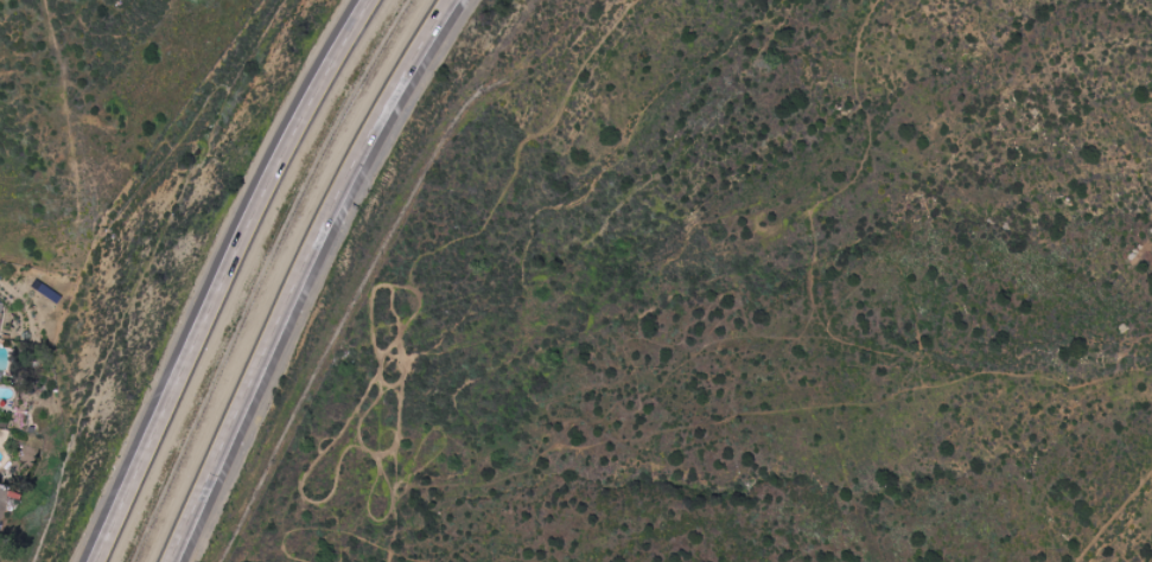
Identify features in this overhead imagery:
road: (218, 274)
road: (291, 275)
building: (0, 319)
road: (586, 349)

